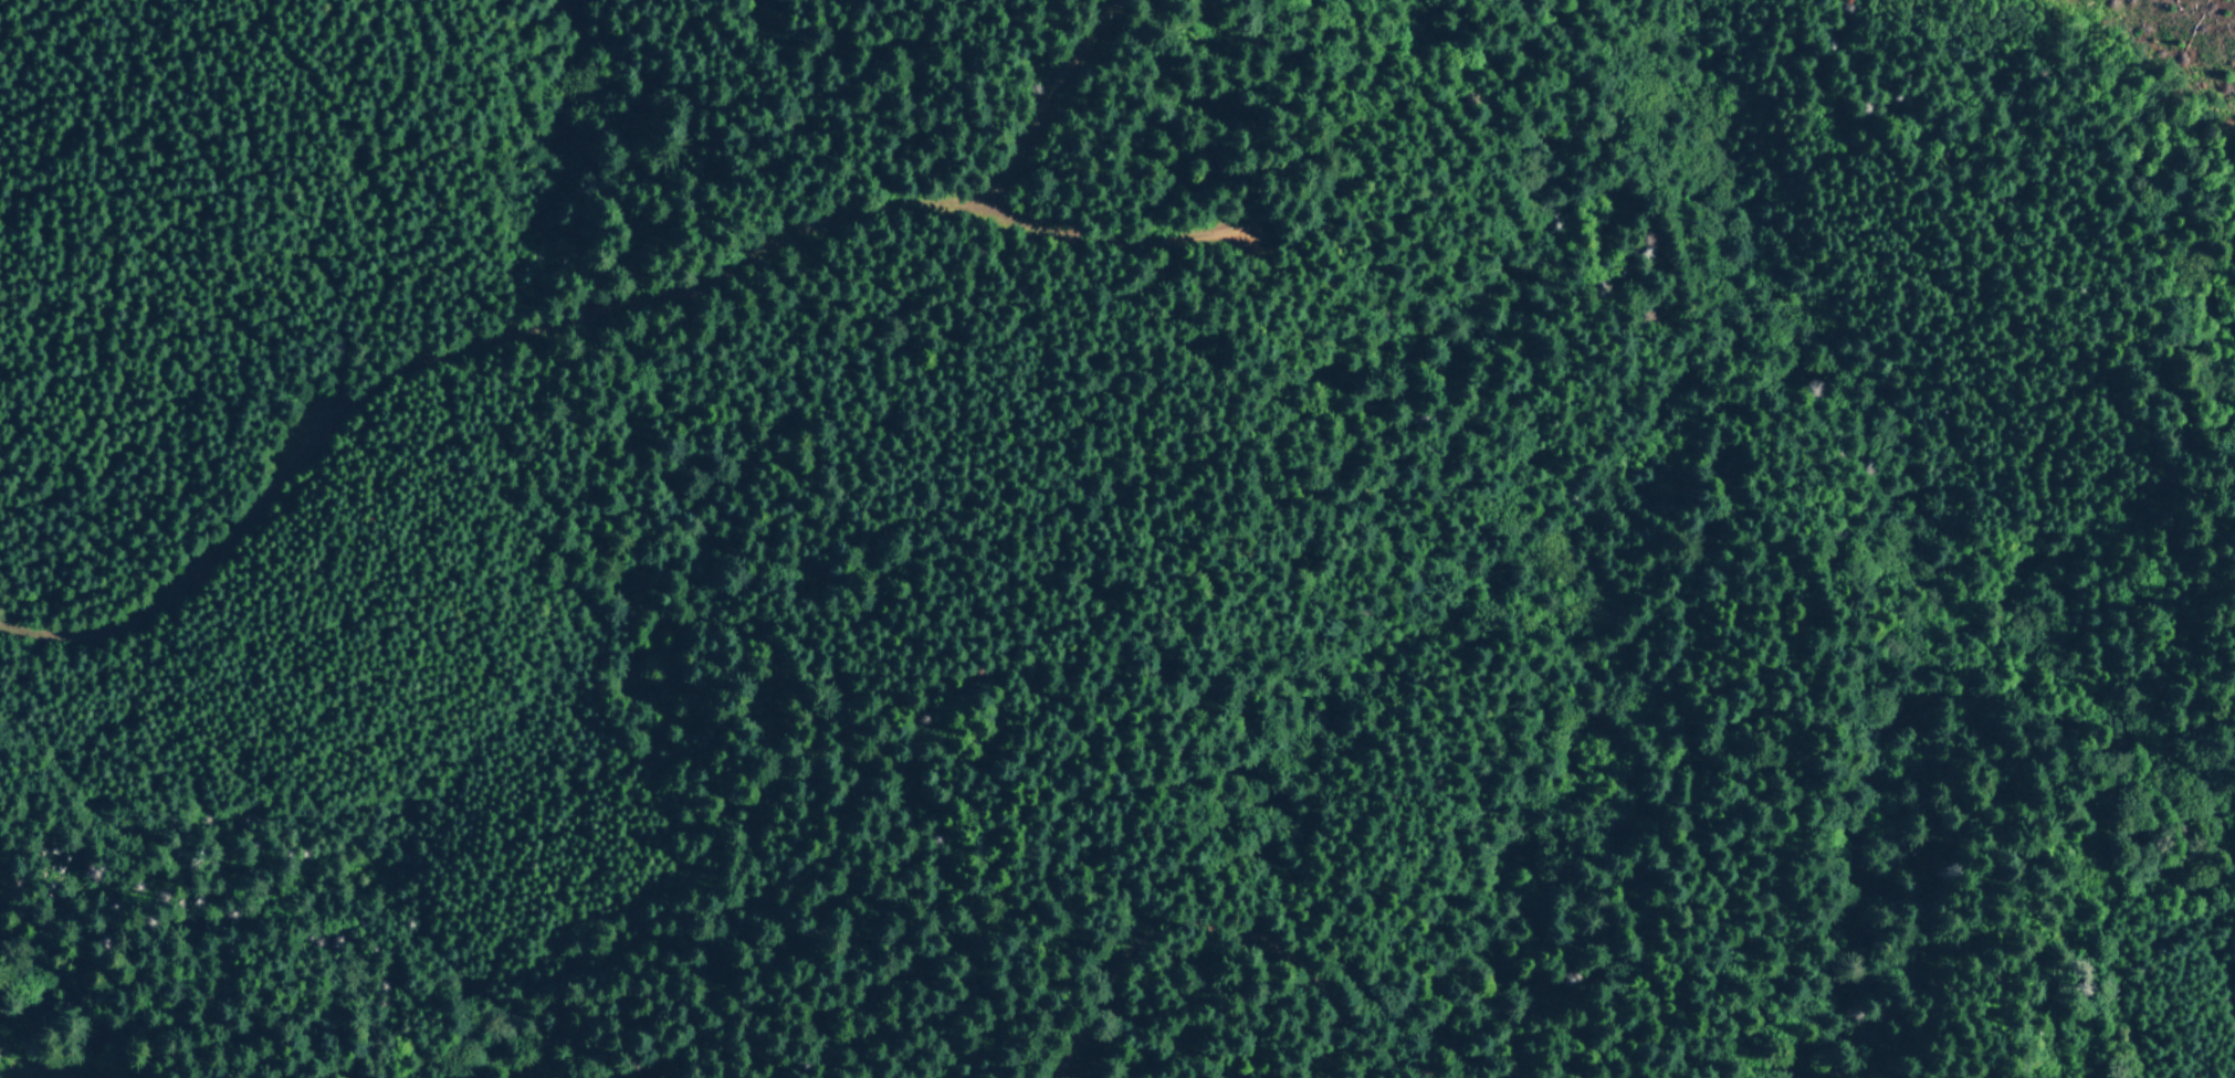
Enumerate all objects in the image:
road: (1238, 936)
road: (1206, 986)

